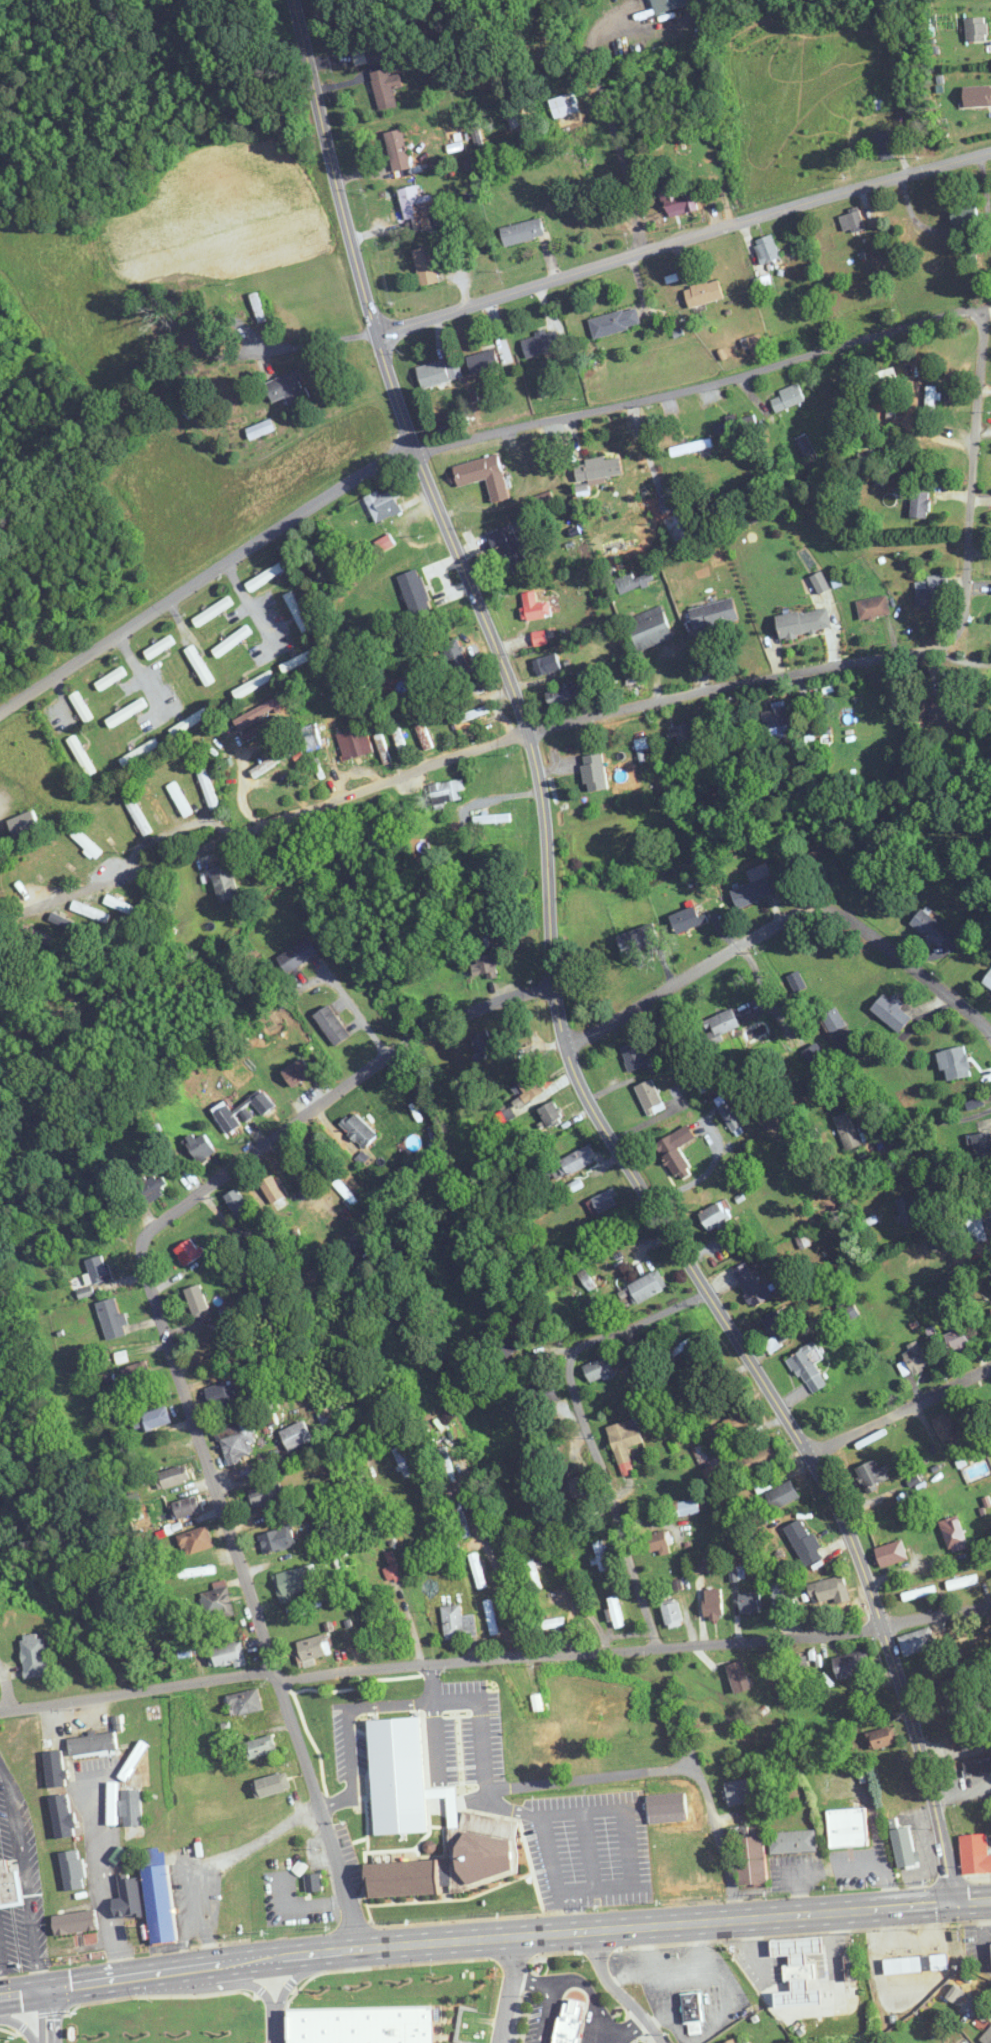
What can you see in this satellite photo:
building: (666, 5)
building: (976, 29)
building: (378, 74)
building: (977, 96)
road: (610, 116)
building: (885, 145)
building: (398, 150)
building: (677, 203)
building: (416, 209)
building: (964, 214)
building: (852, 221)
road: (960, 231)
building: (522, 232)
road: (682, 240)
building: (766, 249)
building: (425, 266)
building: (763, 283)
building: (703, 293)
building: (256, 306)
building: (614, 322)
building: (754, 341)
road: (237, 352)
building: (483, 362)
road: (979, 366)
building: (433, 374)
building: (288, 388)
building: (788, 397)
building: (930, 399)
road: (599, 404)
building: (805, 445)
building: (598, 468)
building: (482, 475)
building: (382, 505)
building: (920, 505)
building: (509, 548)
building: (266, 576)
road: (205, 577)
building: (635, 581)
building: (820, 583)
building: (929, 598)
road: (250, 605)
building: (534, 607)
building: (873, 607)
building: (297, 611)
building: (212, 612)
building: (713, 612)
building: (804, 622)
building: (649, 628)
building: (539, 638)
building: (231, 641)
building: (159, 647)
building: (455, 655)
building: (301, 660)
building: (546, 664)
building: (199, 665)
road: (959, 665)
road: (139, 671)
building: (110, 679)
building: (253, 685)
road: (745, 686)
building: (465, 692)
building: (559, 696)
building: (937, 703)
building: (81, 707)
building: (126, 713)
building: (254, 713)
building: (471, 714)
building: (776, 719)
building: (189, 723)
building: (261, 727)
building: (683, 733)
building: (311, 738)
building: (354, 743)
building: (382, 749)
building: (403, 751)
building: (139, 753)
building: (80, 756)
building: (272, 762)
building: (592, 774)
building: (207, 789)
building: (446, 791)
building: (179, 799)
building: (156, 806)
building: (137, 816)
road: (273, 819)
building: (24, 824)
building: (86, 843)
building: (62, 855)
building: (225, 881)
building: (751, 892)
building: (120, 904)
building: (90, 911)
road: (787, 915)
building: (58, 919)
building: (687, 919)
building: (30, 932)
building: (935, 932)
building: (638, 939)
building: (297, 955)
building: (485, 965)
road: (556, 977)
building: (988, 981)
road: (765, 996)
road: (355, 1011)
building: (892, 1013)
building: (833, 1021)
building: (721, 1024)
building: (331, 1025)
road: (899, 1038)
building: (484, 1043)
building: (670, 1047)
building: (634, 1056)
building: (815, 1057)
building: (955, 1063)
building: (297, 1073)
building: (526, 1092)
building: (650, 1097)
building: (551, 1113)
building: (729, 1116)
building: (227, 1119)
road: (942, 1120)
building: (359, 1129)
building: (847, 1131)
building: (200, 1146)
building: (984, 1147)
building: (676, 1151)
building: (572, 1163)
road: (705, 1173)
building: (153, 1187)
road: (963, 1187)
building: (272, 1190)
building: (238, 1205)
building: (909, 1210)
building: (714, 1216)
building: (987, 1220)
building: (956, 1233)
building: (188, 1251)
building: (97, 1268)
building: (751, 1285)
building: (647, 1286)
building: (197, 1301)
building: (111, 1317)
building: (777, 1331)
building: (957, 1339)
building: (681, 1348)
building: (506, 1349)
road: (171, 1358)
building: (915, 1358)
building: (598, 1368)
building: (807, 1369)
building: (139, 1377)
building: (546, 1394)
building: (219, 1395)
road: (901, 1408)
building: (333, 1415)
building: (152, 1420)
road: (586, 1424)
building: (736, 1425)
building: (946, 1428)
building: (296, 1435)
building: (237, 1442)
building: (624, 1443)
road: (289, 1459)
building: (757, 1459)
building: (401, 1462)
building: (446, 1464)
building: (872, 1475)
building: (172, 1477)
building: (573, 1488)
building: (265, 1494)
building: (782, 1495)
building: (184, 1508)
building: (683, 1508)
building: (461, 1519)
building: (953, 1534)
building: (195, 1540)
building: (276, 1540)
building: (658, 1542)
building: (804, 1542)
building: (891, 1554)
building: (601, 1555)
road: (495, 1561)
building: (699, 1566)
building: (477, 1570)
building: (393, 1571)
building: (192, 1572)
building: (737, 1573)
building: (532, 1574)
building: (294, 1582)
building: (962, 1582)
building: (829, 1591)
building: (919, 1593)
building: (782, 1594)
building: (217, 1601)
building: (749, 1602)
building: (713, 1604)
building: (615, 1612)
building: (672, 1614)
building: (491, 1617)
building: (458, 1623)
building: (548, 1623)
building: (917, 1642)
building: (314, 1647)
road: (636, 1650)
building: (226, 1655)
building: (34, 1656)
building: (799, 1667)
building: (856, 1669)
building: (739, 1676)
road: (6, 1686)
road: (137, 1690)
building: (954, 1690)
building: (245, 1702)
road: (349, 1726)
road: (482, 1726)
road: (436, 1727)
building: (963, 1735)
building: (882, 1737)
building: (93, 1743)
building: (261, 1748)
building: (977, 1766)
road: (666, 1769)
building: (271, 1785)
road: (441, 1791)
building: (739, 1792)
building: (636, 1798)
building: (901, 1799)
road: (443, 1801)
road: (453, 1802)
road: (498, 1803)
building: (396, 1826)
building: (848, 1827)
building: (793, 1841)
building: (485, 1846)
building: (904, 1846)
parking lot: (588, 1849)
road: (586, 1852)
building: (974, 1854)
building: (751, 1861)
building: (685, 1867)
road: (25, 1878)
road: (101, 1878)
building: (403, 1879)
road: (631, 1881)
building: (313, 1883)
building: (9, 1887)
building: (158, 1899)
road: (974, 1900)
traffic signals: (957, 1902)
road: (574, 1911)
road: (477, 1939)
building: (916, 1964)
building: (850, 1968)
building: (798, 1971)
road: (285, 1978)
road: (262, 1980)
road: (530, 1980)
road: (572, 1980)
road: (508, 1989)
traffic signals: (42, 1991)
road: (617, 1992)
building: (693, 2013)
road: (25, 2014)
road: (43, 2017)
building: (569, 2022)
road: (272, 2024)
building: (361, 2028)
road: (624, 2030)
building: (988, 2035)
building: (735, 2040)

